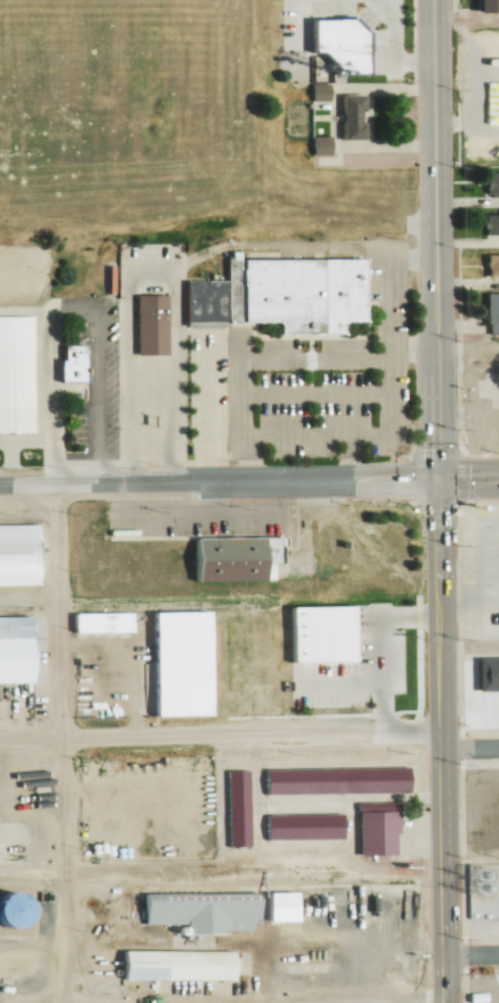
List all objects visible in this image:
building: (489, 6)
building: (344, 42)
street lamp: (456, 89)
building: (355, 117)
building: (323, 145)
street lamp: (454, 167)
building: (493, 182)
building: (493, 223)
road: (435, 238)
building: (493, 263)
building: (282, 294)
building: (493, 313)
building: (151, 325)
road: (468, 346)
building: (70, 365)
building: (15, 372)
building: (498, 375)
road: (468, 477)
traffic signals: (437, 478)
road: (218, 482)
building: (233, 557)
building: (20, 562)
railway: (18, 588)
railway: (137, 605)
building: (317, 630)
building: (16, 649)
building: (376, 653)
building: (187, 670)
building: (490, 681)
road: (220, 733)
road: (441, 740)
road: (64, 743)
road: (470, 744)
building: (346, 786)
building: (242, 814)
building: (379, 830)
building: (309, 832)
road: (471, 853)
railway: (172, 865)
building: (206, 912)
building: (287, 914)
road: (475, 953)
building: (178, 963)

